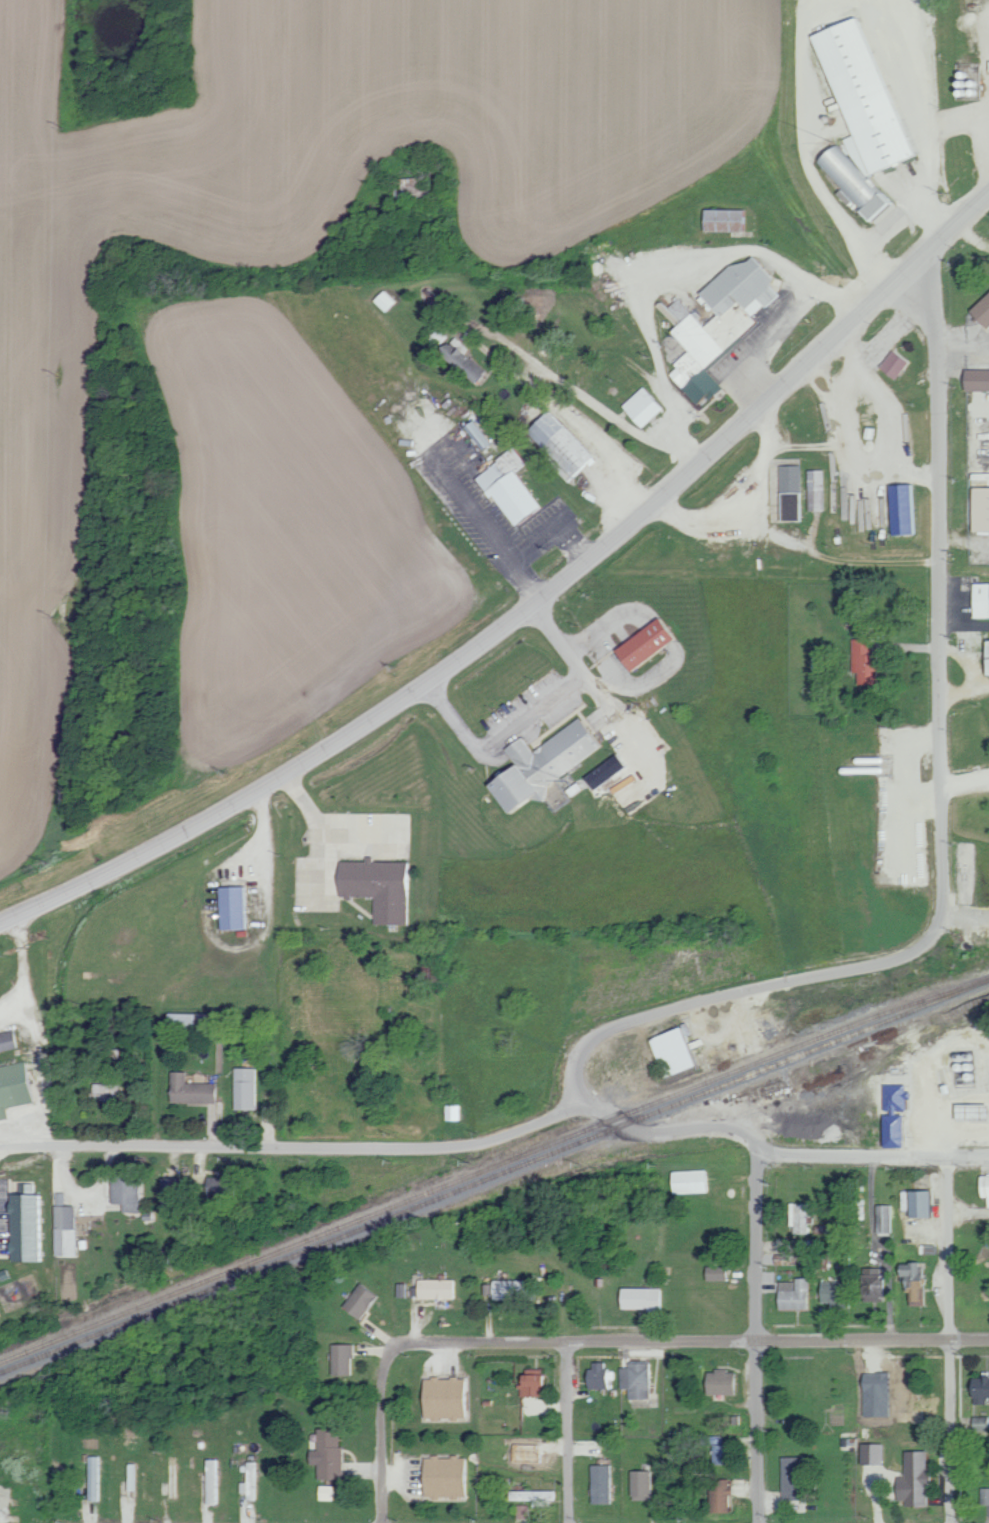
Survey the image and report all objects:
building: (857, 118)
road: (980, 143)
building: (403, 185)
building: (721, 220)
road: (655, 265)
building: (980, 310)
building: (714, 324)
road: (963, 341)
building: (463, 358)
building: (890, 364)
building: (973, 380)
building: (638, 407)
building: (556, 443)
road: (886, 461)
building: (506, 487)
building: (814, 490)
building: (787, 493)
building: (900, 509)
building: (978, 509)
road: (964, 543)
road: (791, 548)
building: (979, 600)
road: (531, 608)
road: (549, 619)
building: (639, 644)
building: (985, 657)
building: (538, 764)
building: (601, 772)
road: (966, 782)
road: (944, 806)
road: (318, 826)
road: (264, 865)
building: (382, 887)
building: (238, 908)
building: (433, 973)
road: (11, 1005)
building: (186, 1021)
road: (35, 1039)
building: (10, 1041)
building: (669, 1050)
building: (16, 1088)
building: (248, 1088)
building: (194, 1090)
building: (108, 1092)
road: (951, 1097)
building: (965, 1111)
building: (454, 1112)
building: (889, 1114)
road: (630, 1126)
road: (296, 1149)
road: (831, 1156)
railway: (493, 1164)
railway: (493, 1174)
building: (689, 1181)
building: (983, 1187)
building: (224, 1188)
building: (130, 1192)
building: (174, 1194)
building: (918, 1203)
building: (799, 1217)
building: (883, 1218)
building: (33, 1227)
building: (68, 1231)
building: (714, 1272)
building: (911, 1282)
building: (869, 1284)
building: (434, 1288)
building: (513, 1289)
building: (830, 1293)
building: (791, 1294)
building: (640, 1298)
building: (357, 1301)
road: (756, 1335)
road: (952, 1339)
road: (697, 1341)
building: (339, 1359)
building: (597, 1376)
building: (633, 1380)
building: (719, 1382)
building: (527, 1383)
building: (978, 1388)
building: (873, 1394)
building: (440, 1397)
road: (380, 1425)
road: (567, 1432)
building: (325, 1453)
building: (720, 1454)
building: (869, 1454)
building: (439, 1476)
building: (794, 1476)
building: (96, 1478)
building: (912, 1479)
building: (252, 1481)
building: (215, 1482)
building: (638, 1483)
building: (597, 1484)
road: (28, 1493)
building: (717, 1495)
building: (985, 1496)
building: (520, 1511)

